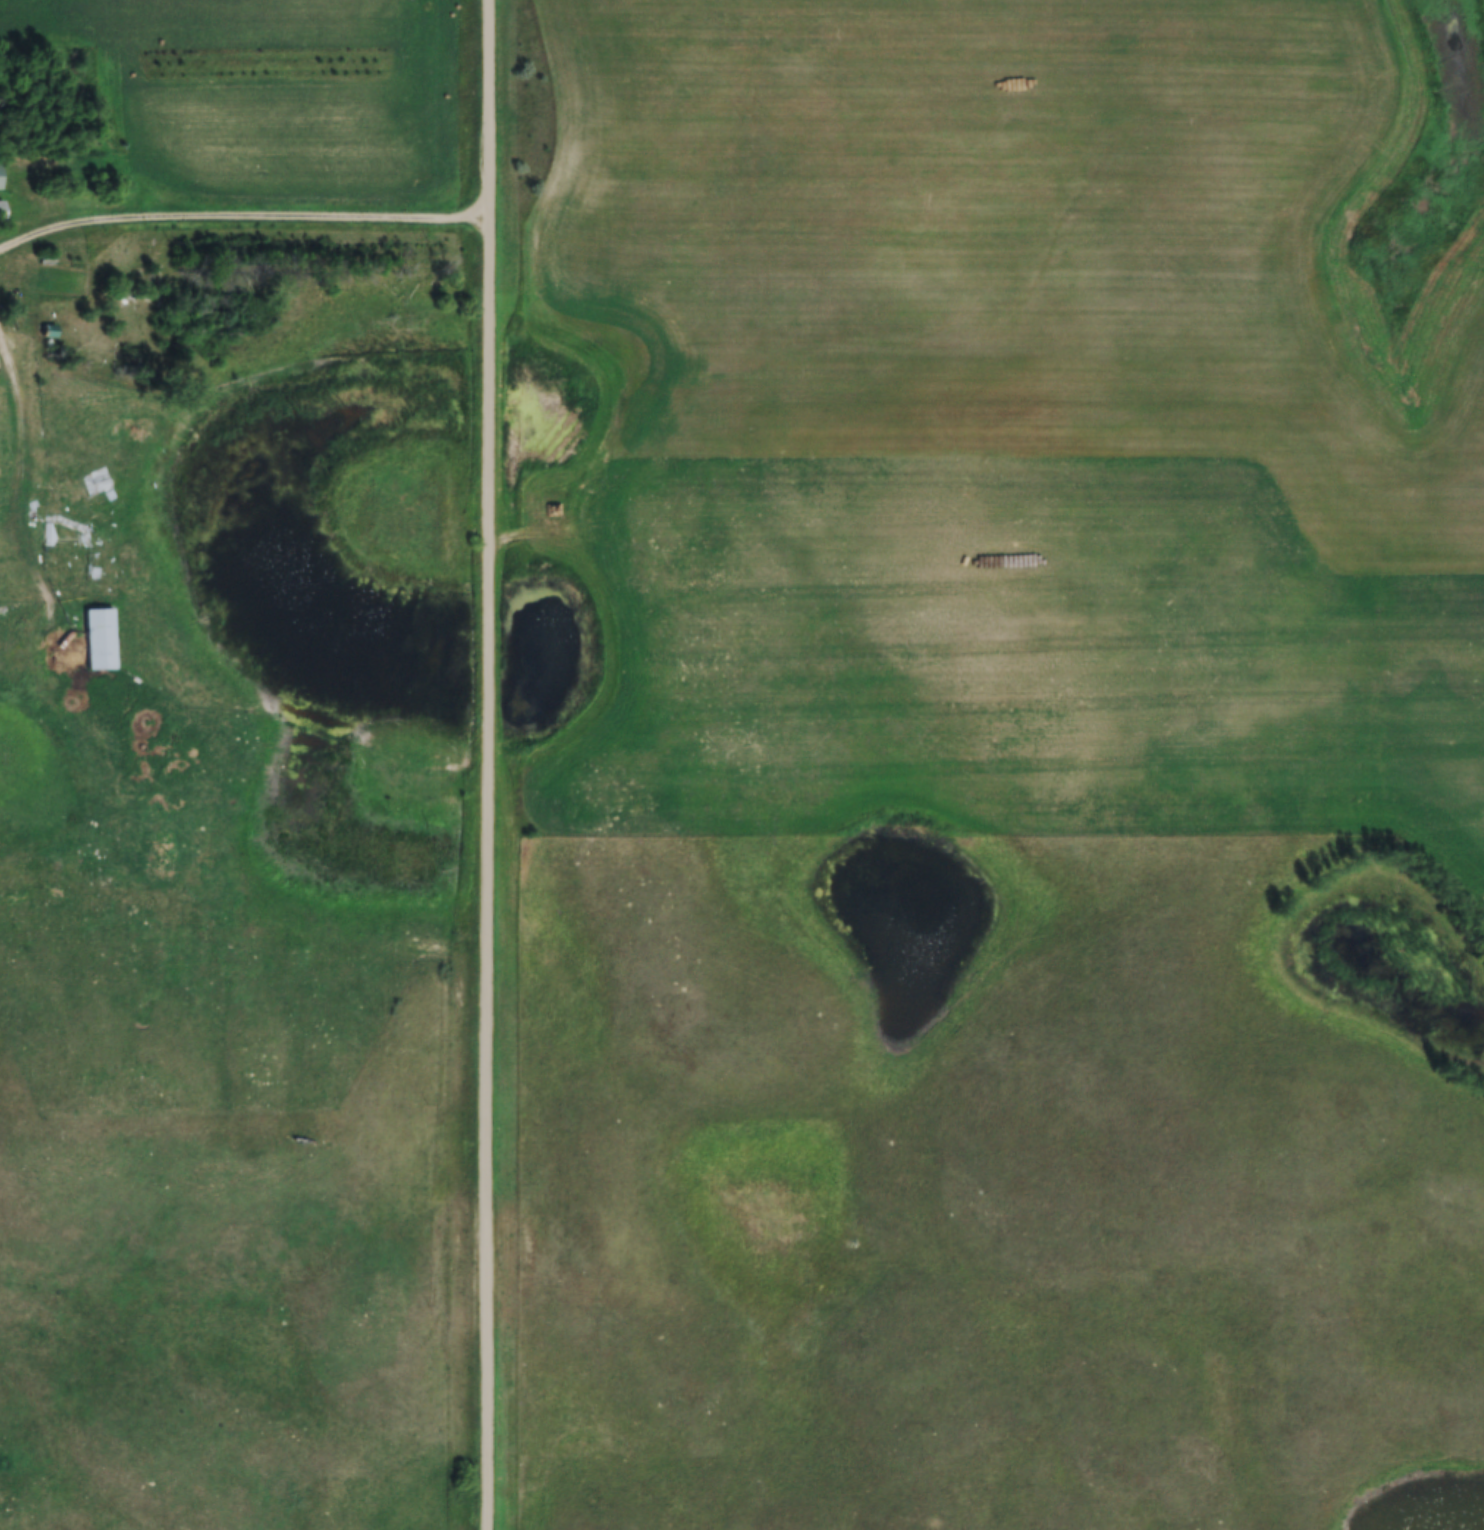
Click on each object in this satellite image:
building: (1, 212)
road: (240, 221)
road: (10, 498)
building: (65, 537)
building: (99, 640)
road: (483, 764)

